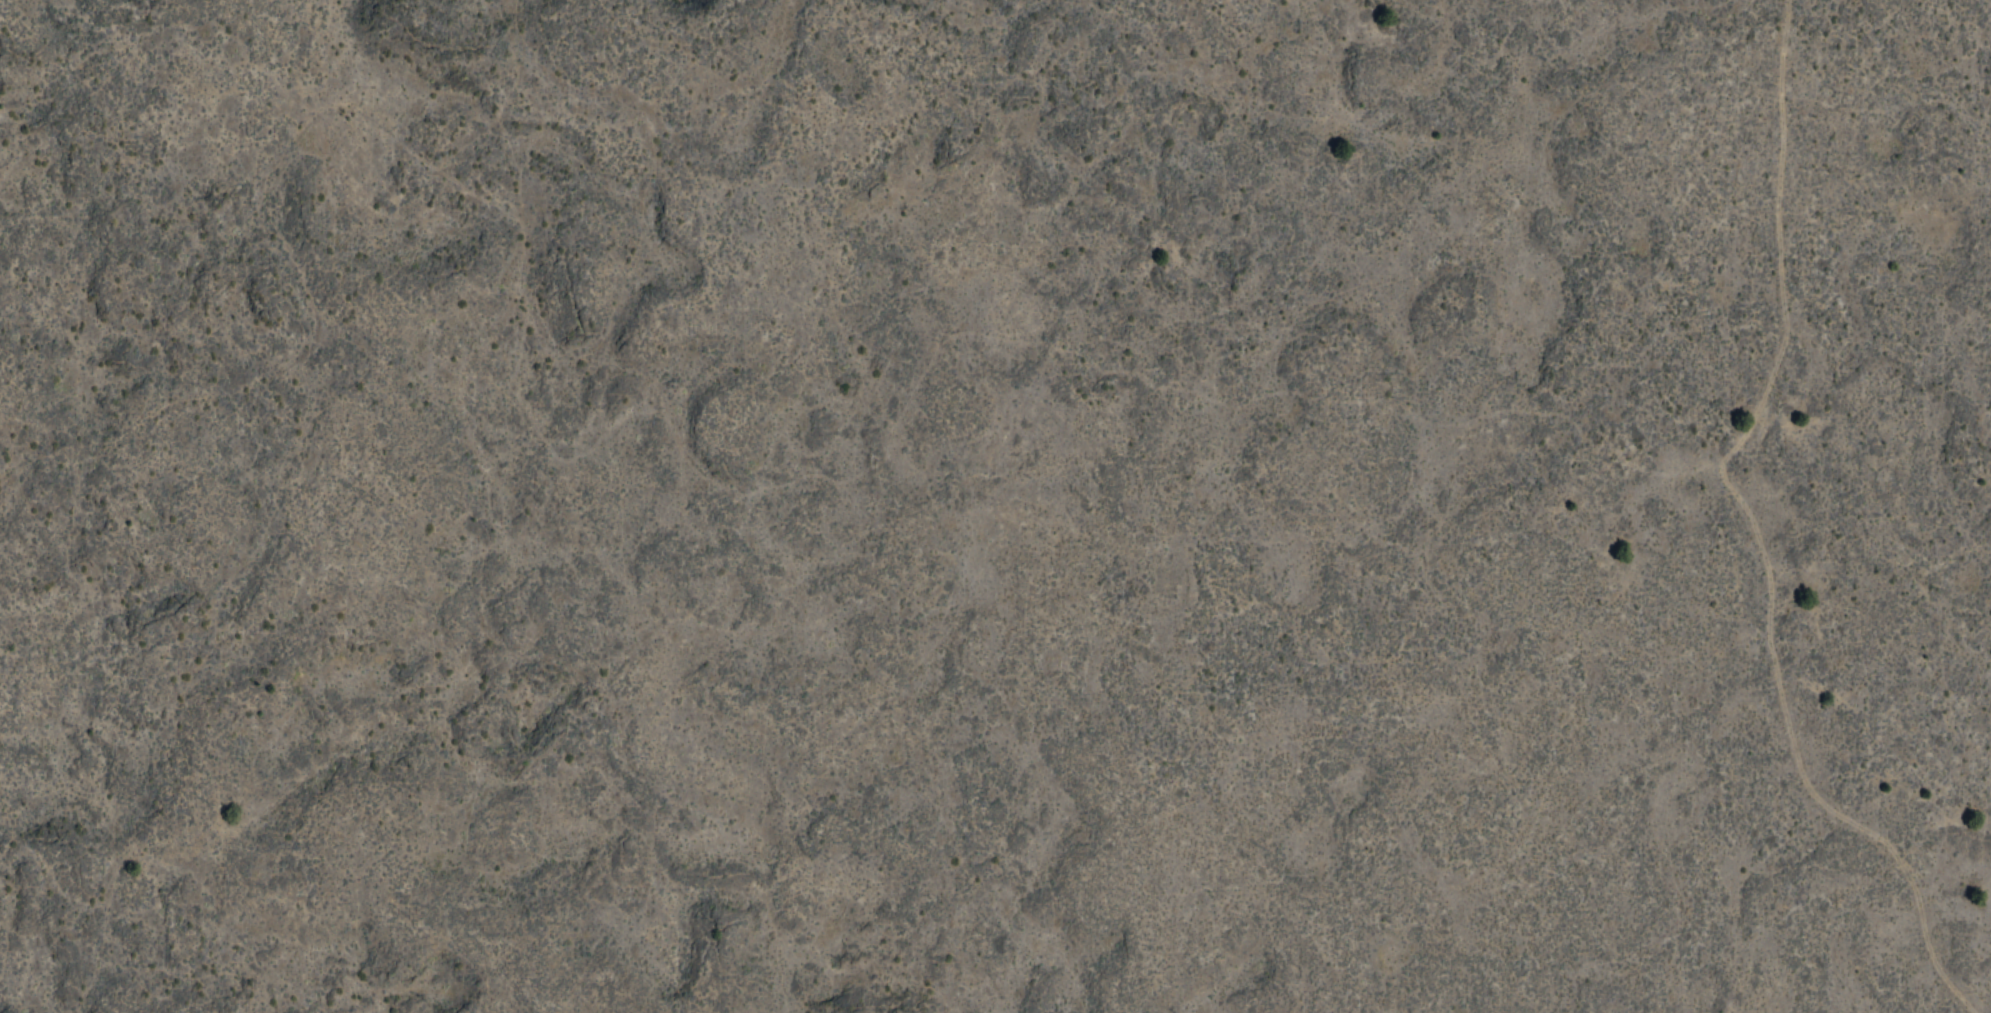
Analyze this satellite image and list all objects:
road: (1757, 530)

